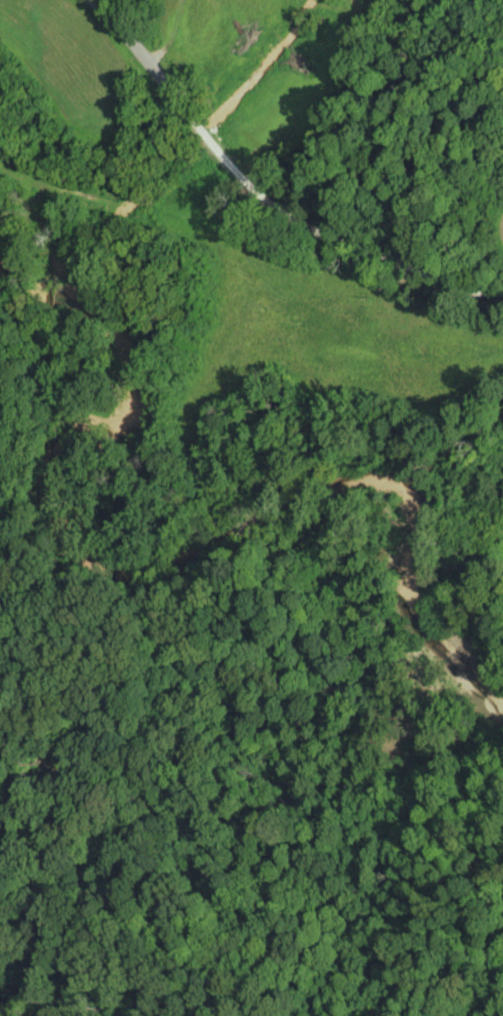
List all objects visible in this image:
road: (262, 196)

